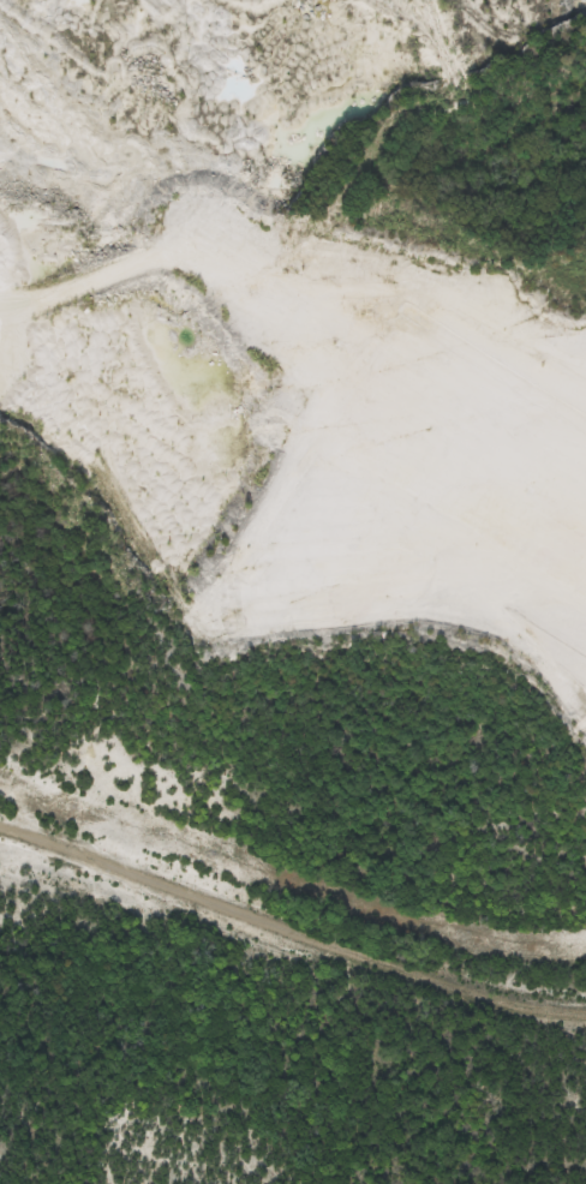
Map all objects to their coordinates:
road: (287, 932)

